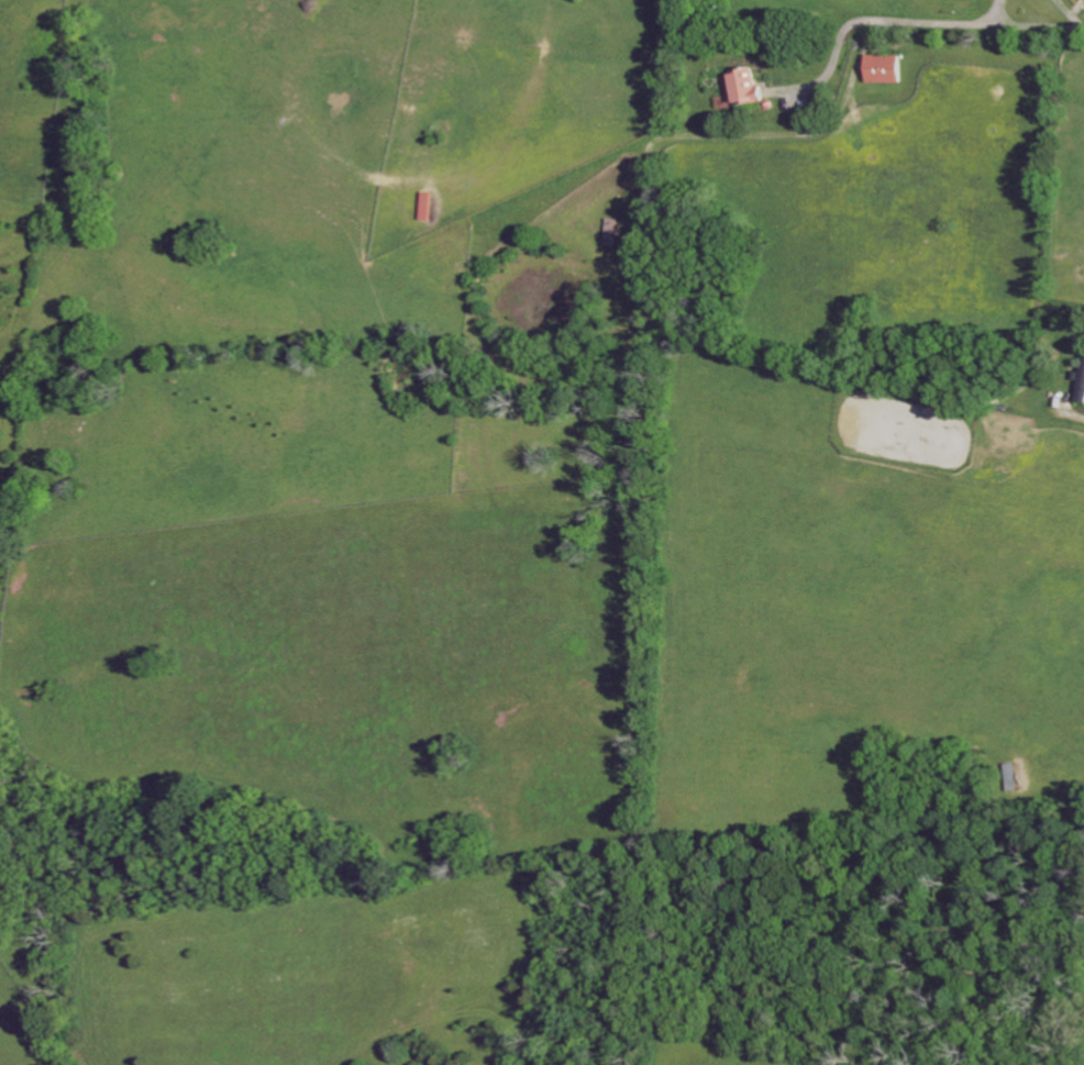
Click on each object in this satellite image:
road: (917, 20)
building: (886, 68)
building: (748, 87)
building: (728, 99)
building: (429, 206)
building: (1082, 388)
road: (1081, 415)
building: (1014, 777)

